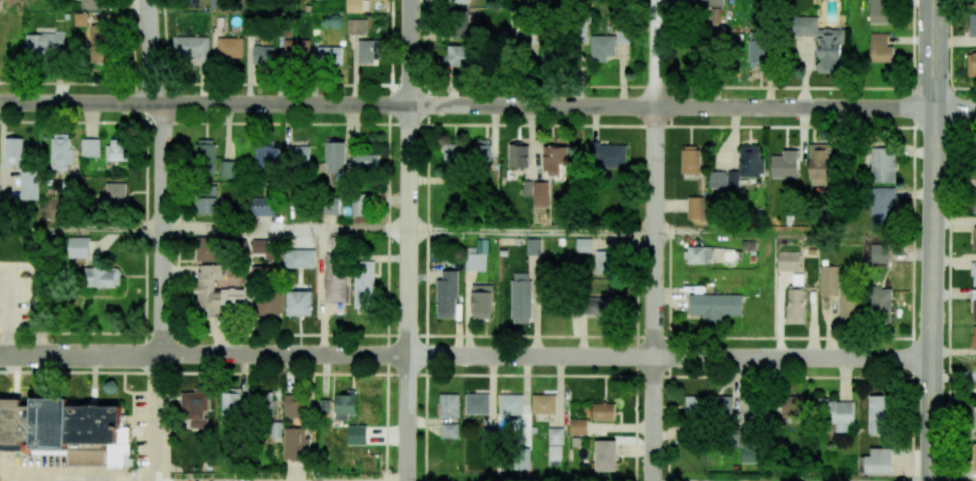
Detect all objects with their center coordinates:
building: (458, 1)
building: (707, 3)
building: (92, 4)
building: (354, 6)
building: (880, 11)
building: (459, 25)
building: (972, 25)
building: (356, 26)
building: (622, 37)
road: (127, 41)
road: (165, 41)
building: (820, 42)
building: (43, 43)
building: (98, 43)
building: (229, 46)
building: (602, 47)
building: (190, 48)
building: (880, 48)
building: (296, 49)
building: (758, 49)
road: (151, 51)
building: (365, 51)
road: (534, 53)
road: (656, 53)
building: (263, 54)
building: (329, 55)
building: (459, 55)
building: (547, 56)
road: (670, 62)
building: (971, 64)
road: (487, 84)
road: (488, 105)
road: (488, 123)
building: (90, 147)
building: (117, 150)
building: (481, 150)
building: (13, 151)
building: (60, 151)
building: (205, 155)
building: (268, 155)
building: (300, 155)
building: (607, 155)
building: (452, 156)
building: (518, 156)
building: (335, 157)
building: (556, 157)
building: (690, 159)
building: (365, 161)
building: (751, 161)
building: (785, 164)
building: (819, 164)
building: (882, 164)
building: (227, 169)
building: (723, 179)
building: (29, 184)
building: (537, 192)
building: (115, 194)
building: (975, 197)
building: (207, 201)
building: (358, 204)
building: (330, 205)
building: (882, 205)
building: (262, 206)
building: (695, 207)
road: (146, 217)
road: (163, 228)
road: (286, 230)
road: (539, 231)
road: (48, 235)
building: (974, 235)
road: (389, 240)
road: (409, 240)
road: (427, 240)
road: (912, 240)
road: (931, 240)
road: (949, 240)
building: (584, 245)
building: (260, 246)
building: (533, 246)
building: (78, 247)
building: (206, 251)
building: (699, 254)
building: (477, 257)
building: (299, 258)
building: (788, 261)
building: (602, 262)
road: (178, 267)
road: (5, 273)
building: (973, 273)
building: (101, 277)
building: (335, 277)
building: (829, 280)
building: (363, 284)
building: (220, 292)
road: (655, 293)
building: (447, 294)
road: (11, 296)
building: (521, 297)
building: (482, 301)
building: (268, 303)
building: (299, 303)
building: (795, 304)
building: (848, 304)
building: (880, 304)
building: (715, 305)
building: (973, 305)
building: (600, 308)
road: (456, 334)
building: (974, 337)
road: (465, 355)
road: (636, 356)
road: (669, 356)
road: (456, 374)
building: (231, 403)
building: (266, 403)
building: (477, 403)
building: (510, 404)
building: (544, 404)
building: (293, 405)
building: (345, 405)
building: (449, 405)
building: (694, 405)
building: (790, 405)
building: (324, 406)
building: (721, 406)
building: (195, 408)
building: (603, 411)
building: (836, 413)
building: (878, 415)
road: (161, 417)
building: (578, 426)
building: (65, 430)
building: (449, 430)
building: (356, 434)
building: (555, 435)
building: (296, 444)
building: (749, 451)
building: (554, 452)
building: (605, 455)
building: (877, 461)
road: (82, 475)

